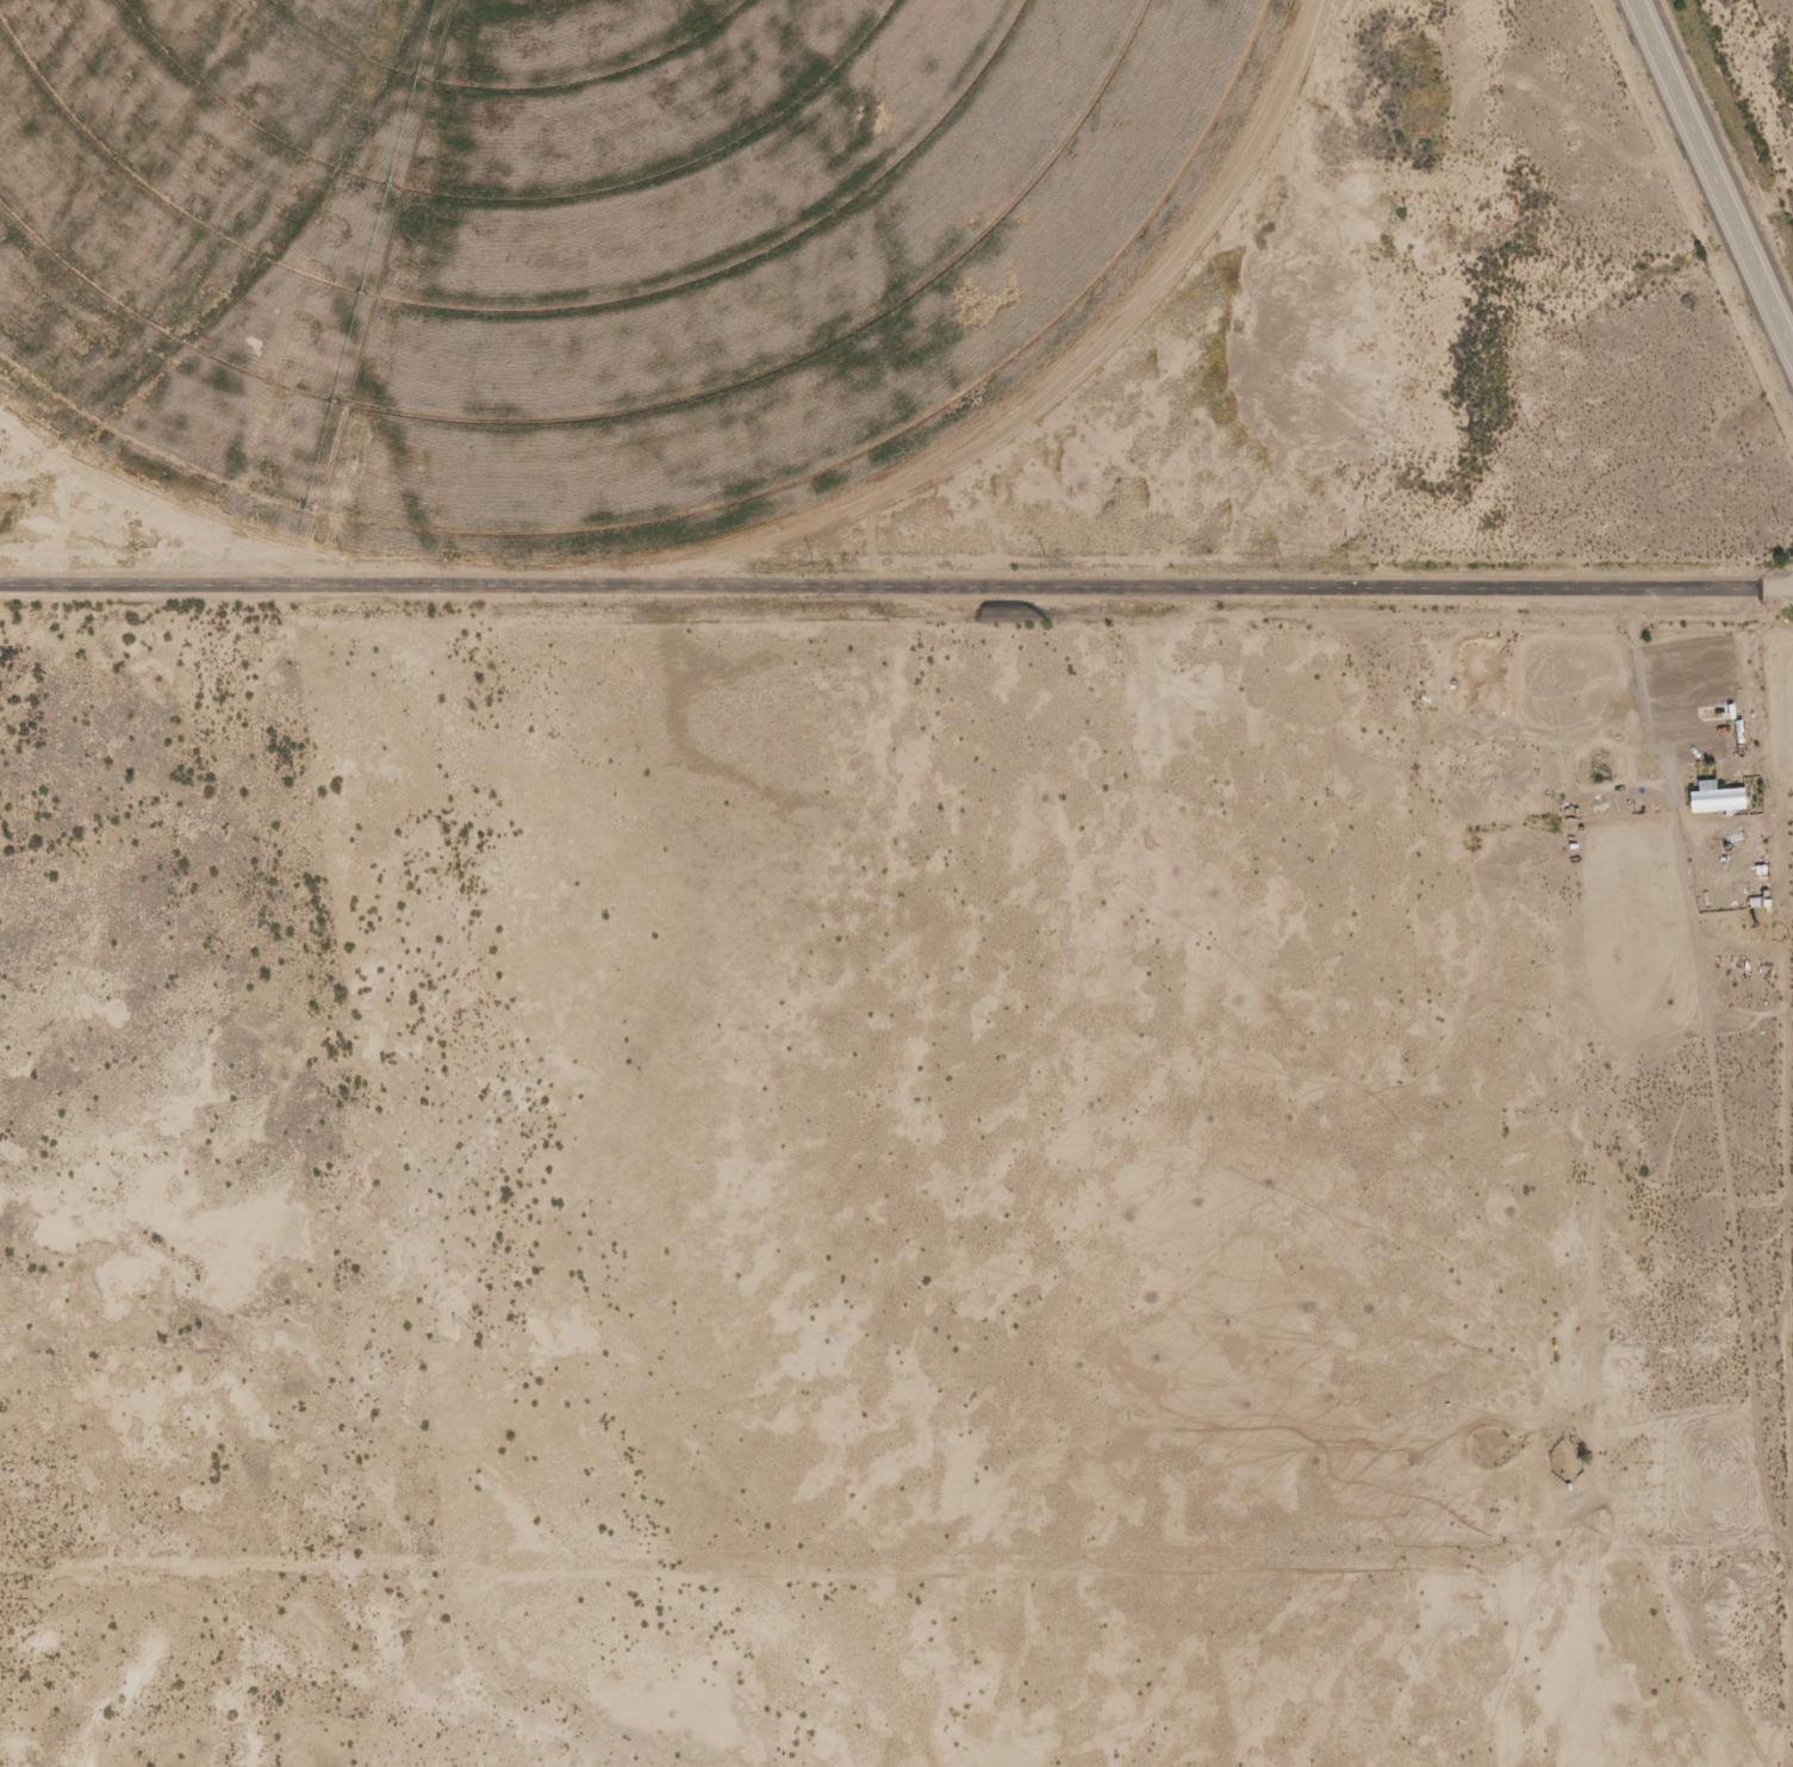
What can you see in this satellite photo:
road: (1711, 181)
road: (896, 575)
building: (1716, 796)
road: (1698, 1175)

